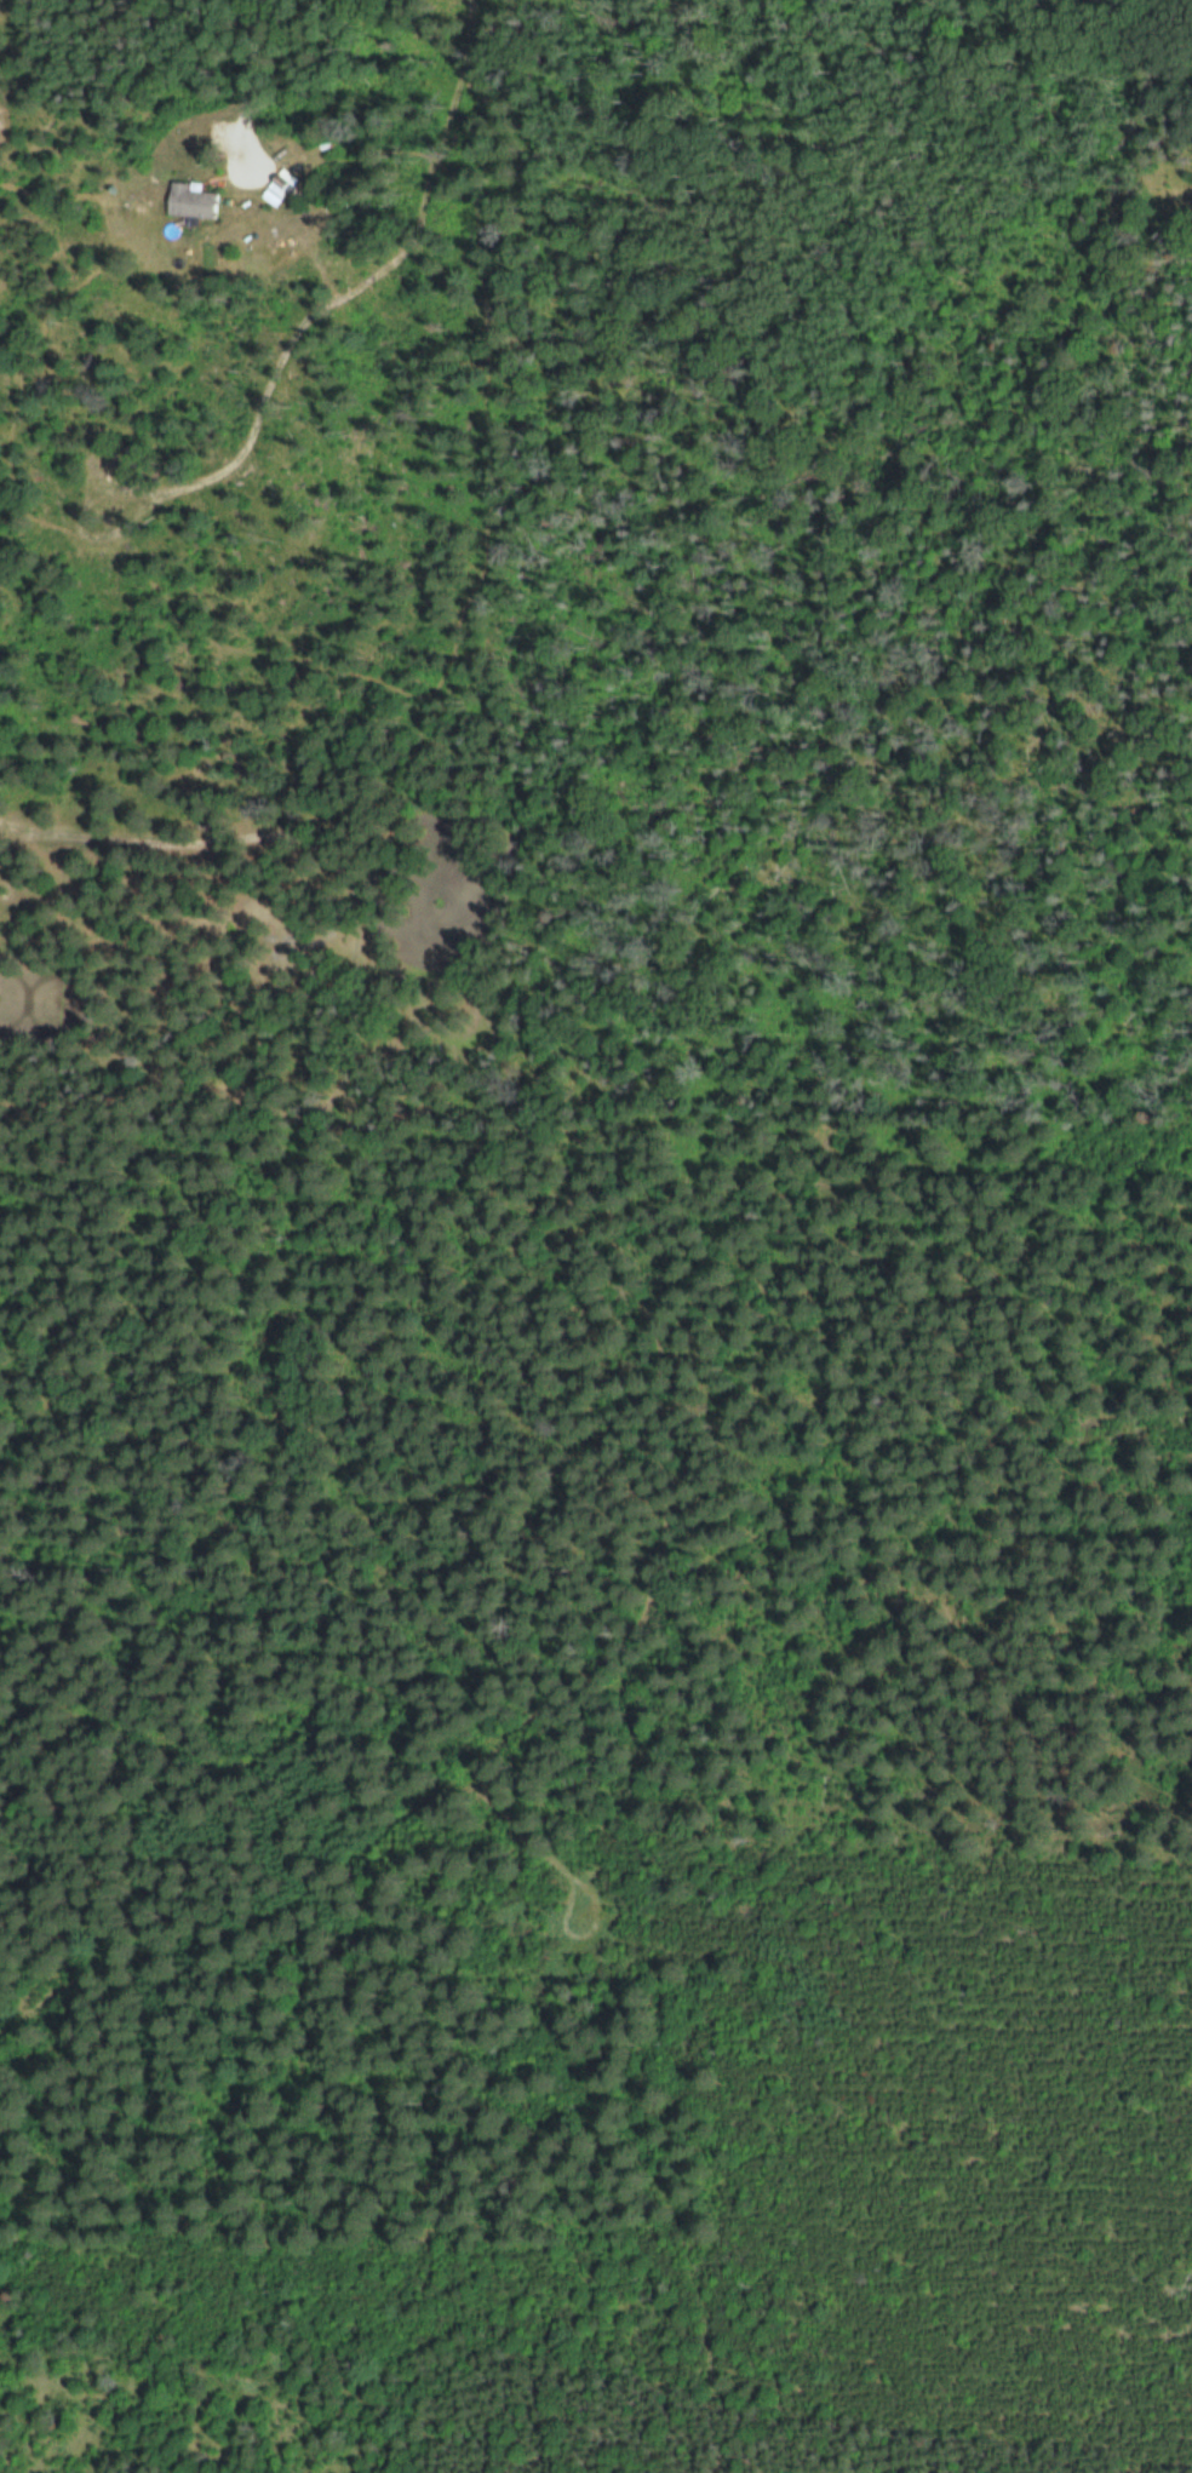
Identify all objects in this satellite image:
building: (184, 197)
road: (217, 532)

